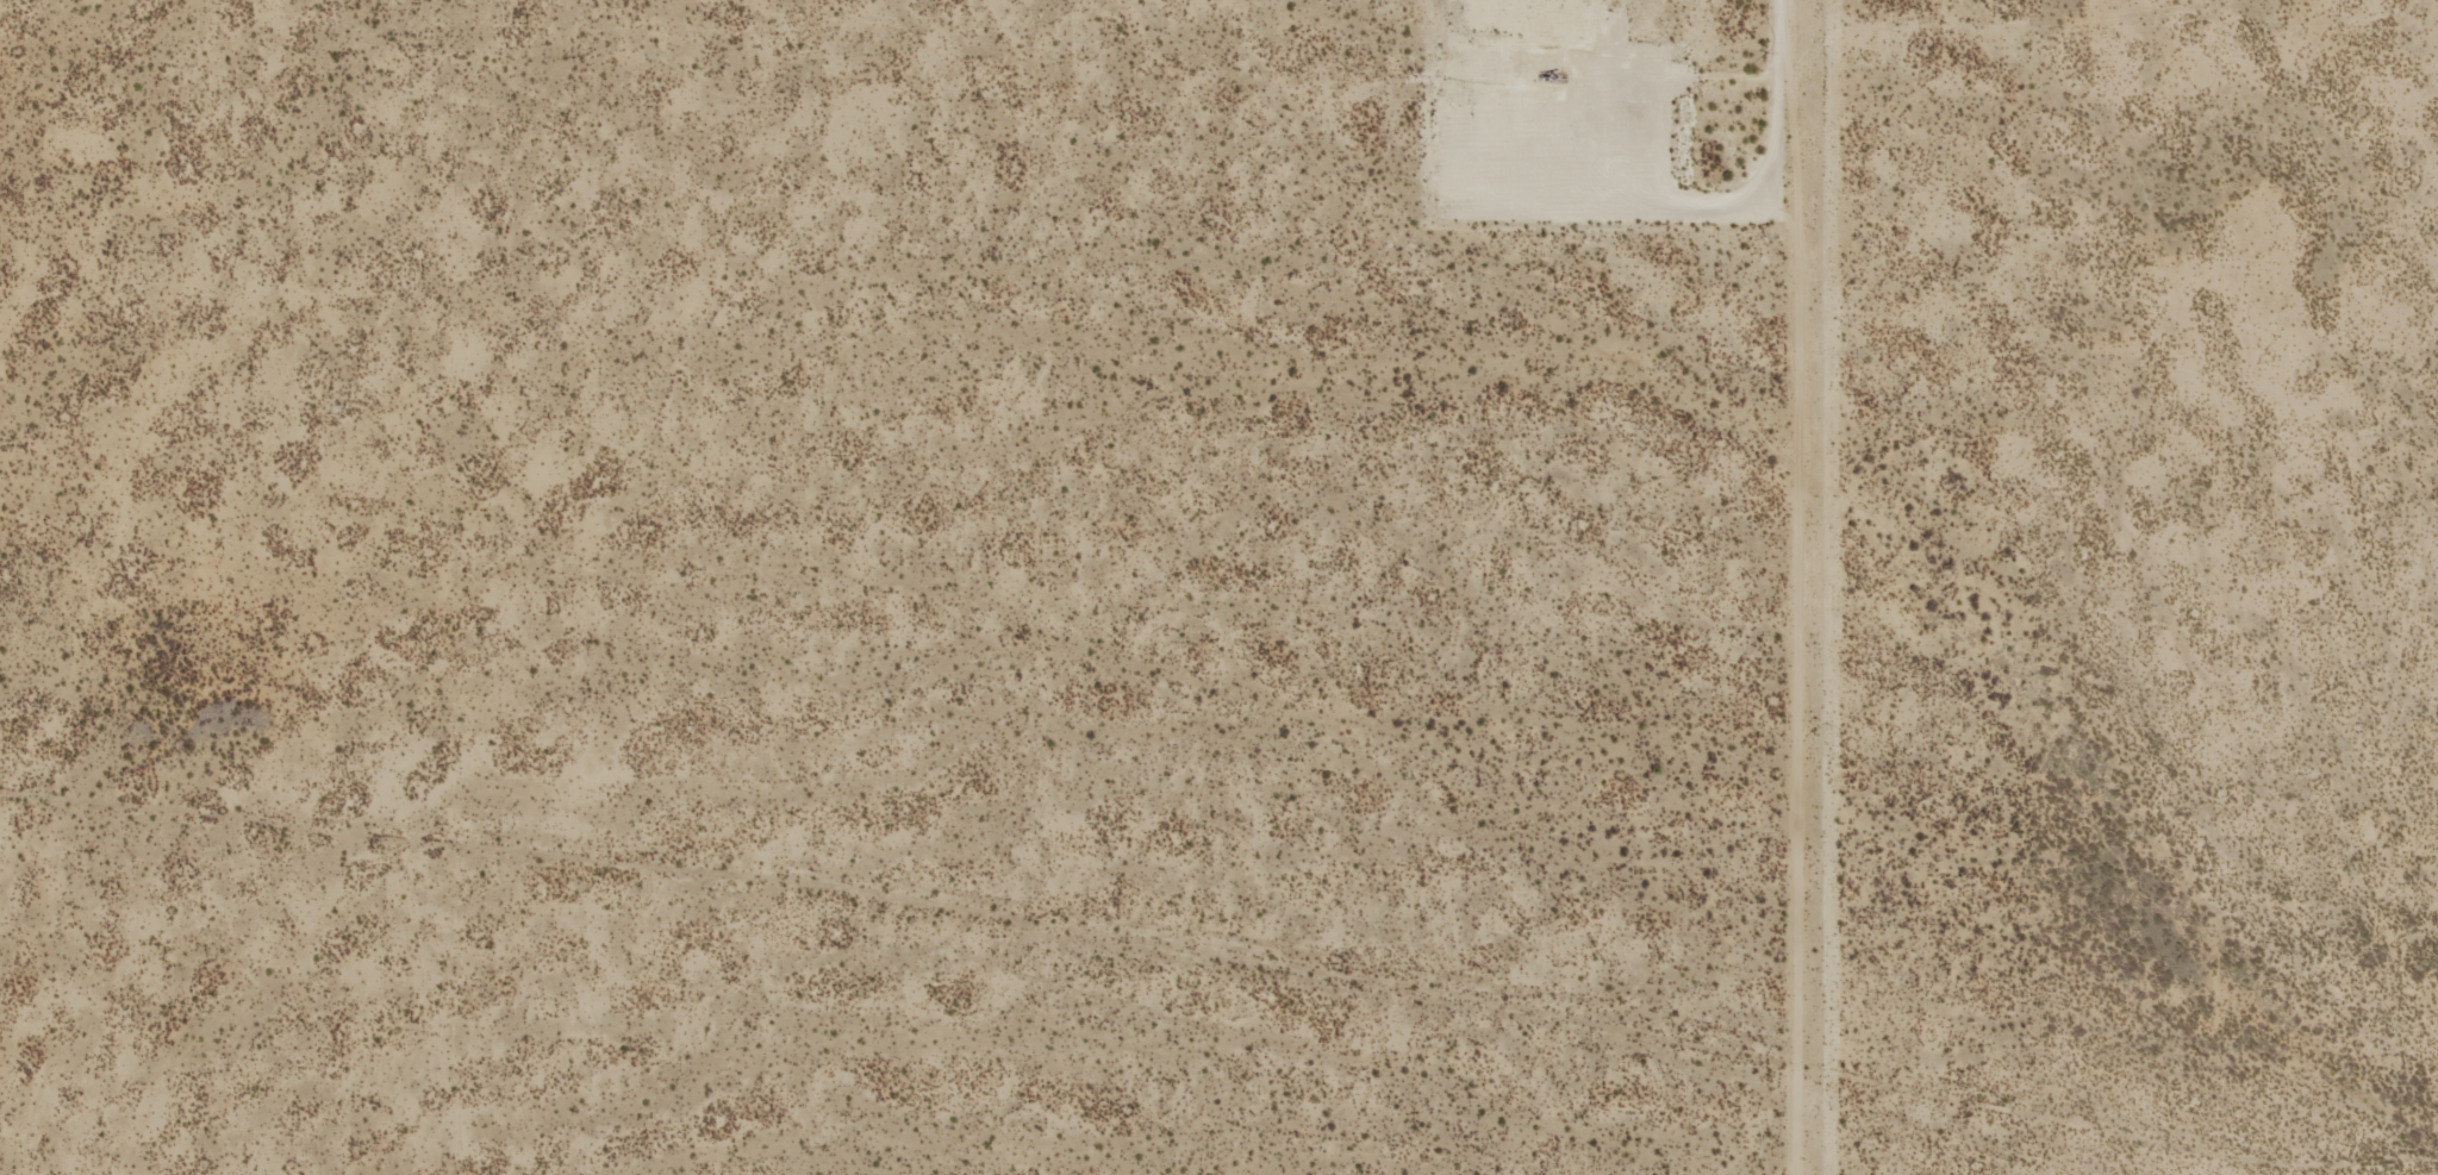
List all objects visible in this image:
road: (1224, 906)

